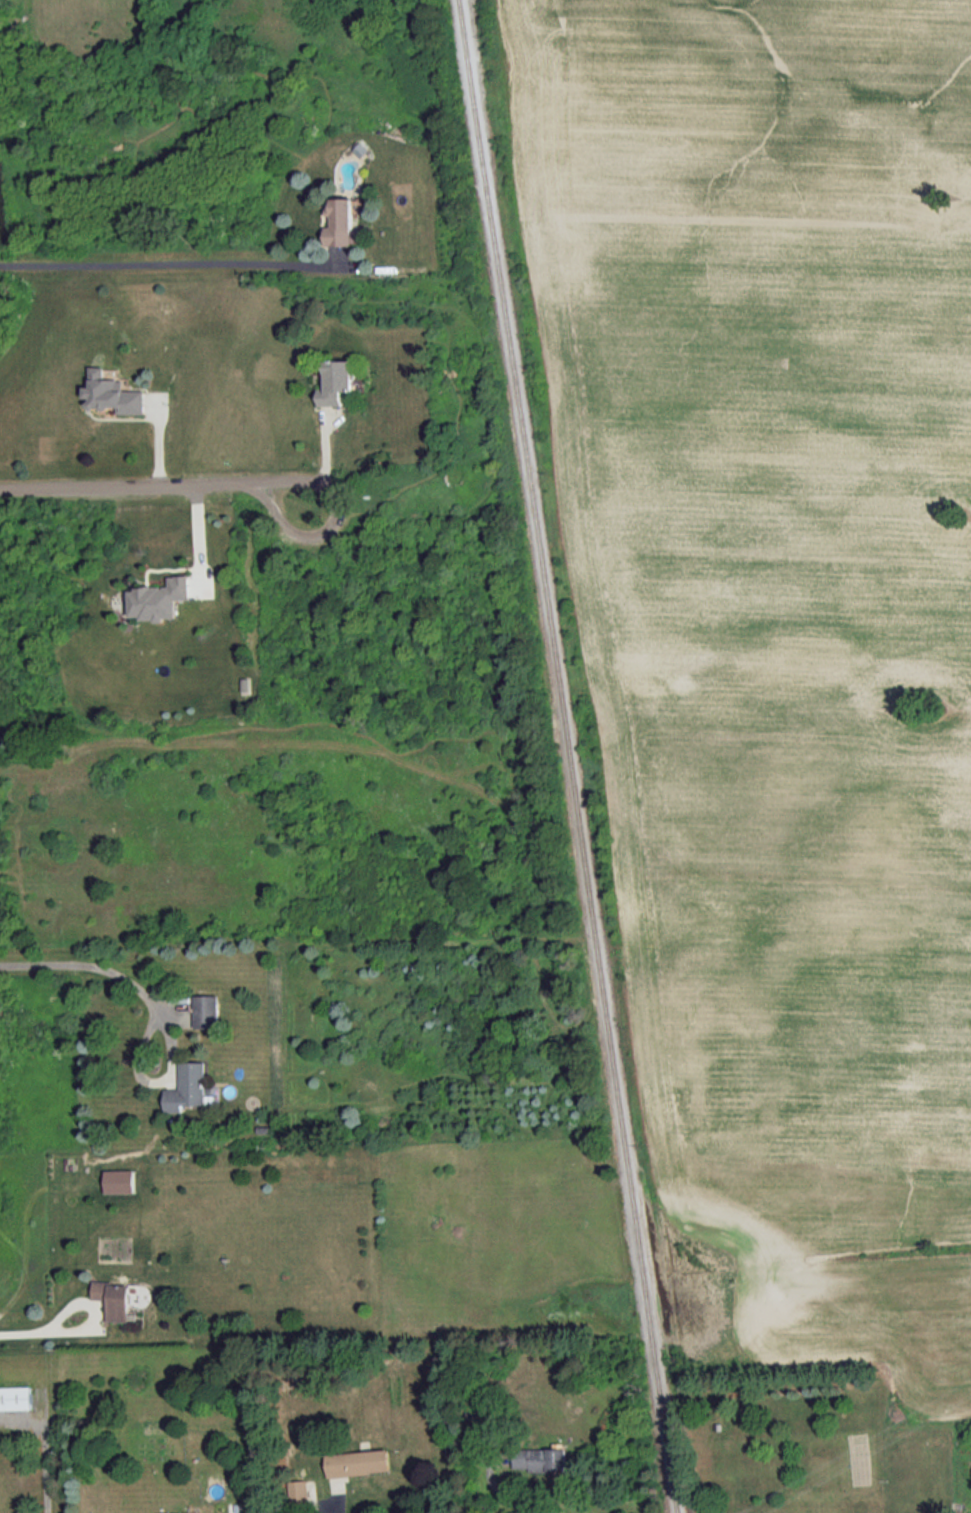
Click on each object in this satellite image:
crop: (748, 152)
building: (342, 222)
road: (340, 256)
road: (181, 261)
building: (338, 381)
building: (114, 393)
road: (173, 486)
building: (159, 598)
railway: (570, 756)
crop: (793, 789)
road: (91, 967)
building: (206, 1010)
building: (188, 1086)
building: (120, 1180)
building: (114, 1298)
road: (36, 1334)
building: (16, 1397)
road: (46, 1446)
building: (542, 1458)
building: (360, 1462)
building: (300, 1490)
road: (501, 1492)
road: (345, 1511)
building: (174, 1512)

